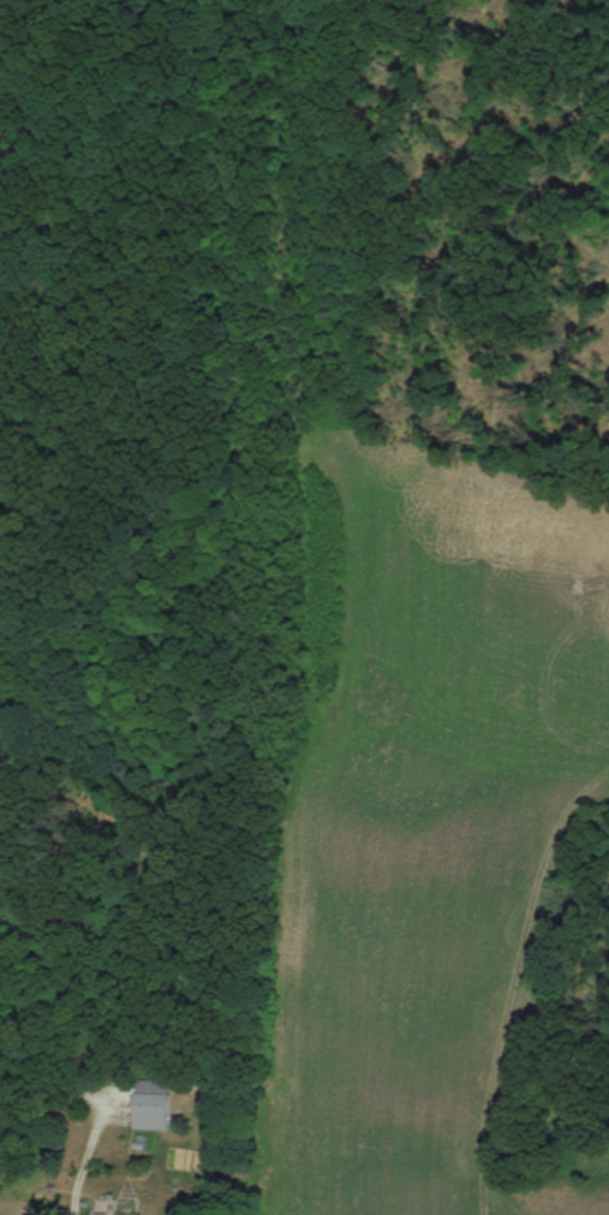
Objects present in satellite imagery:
road: (84, 1161)

